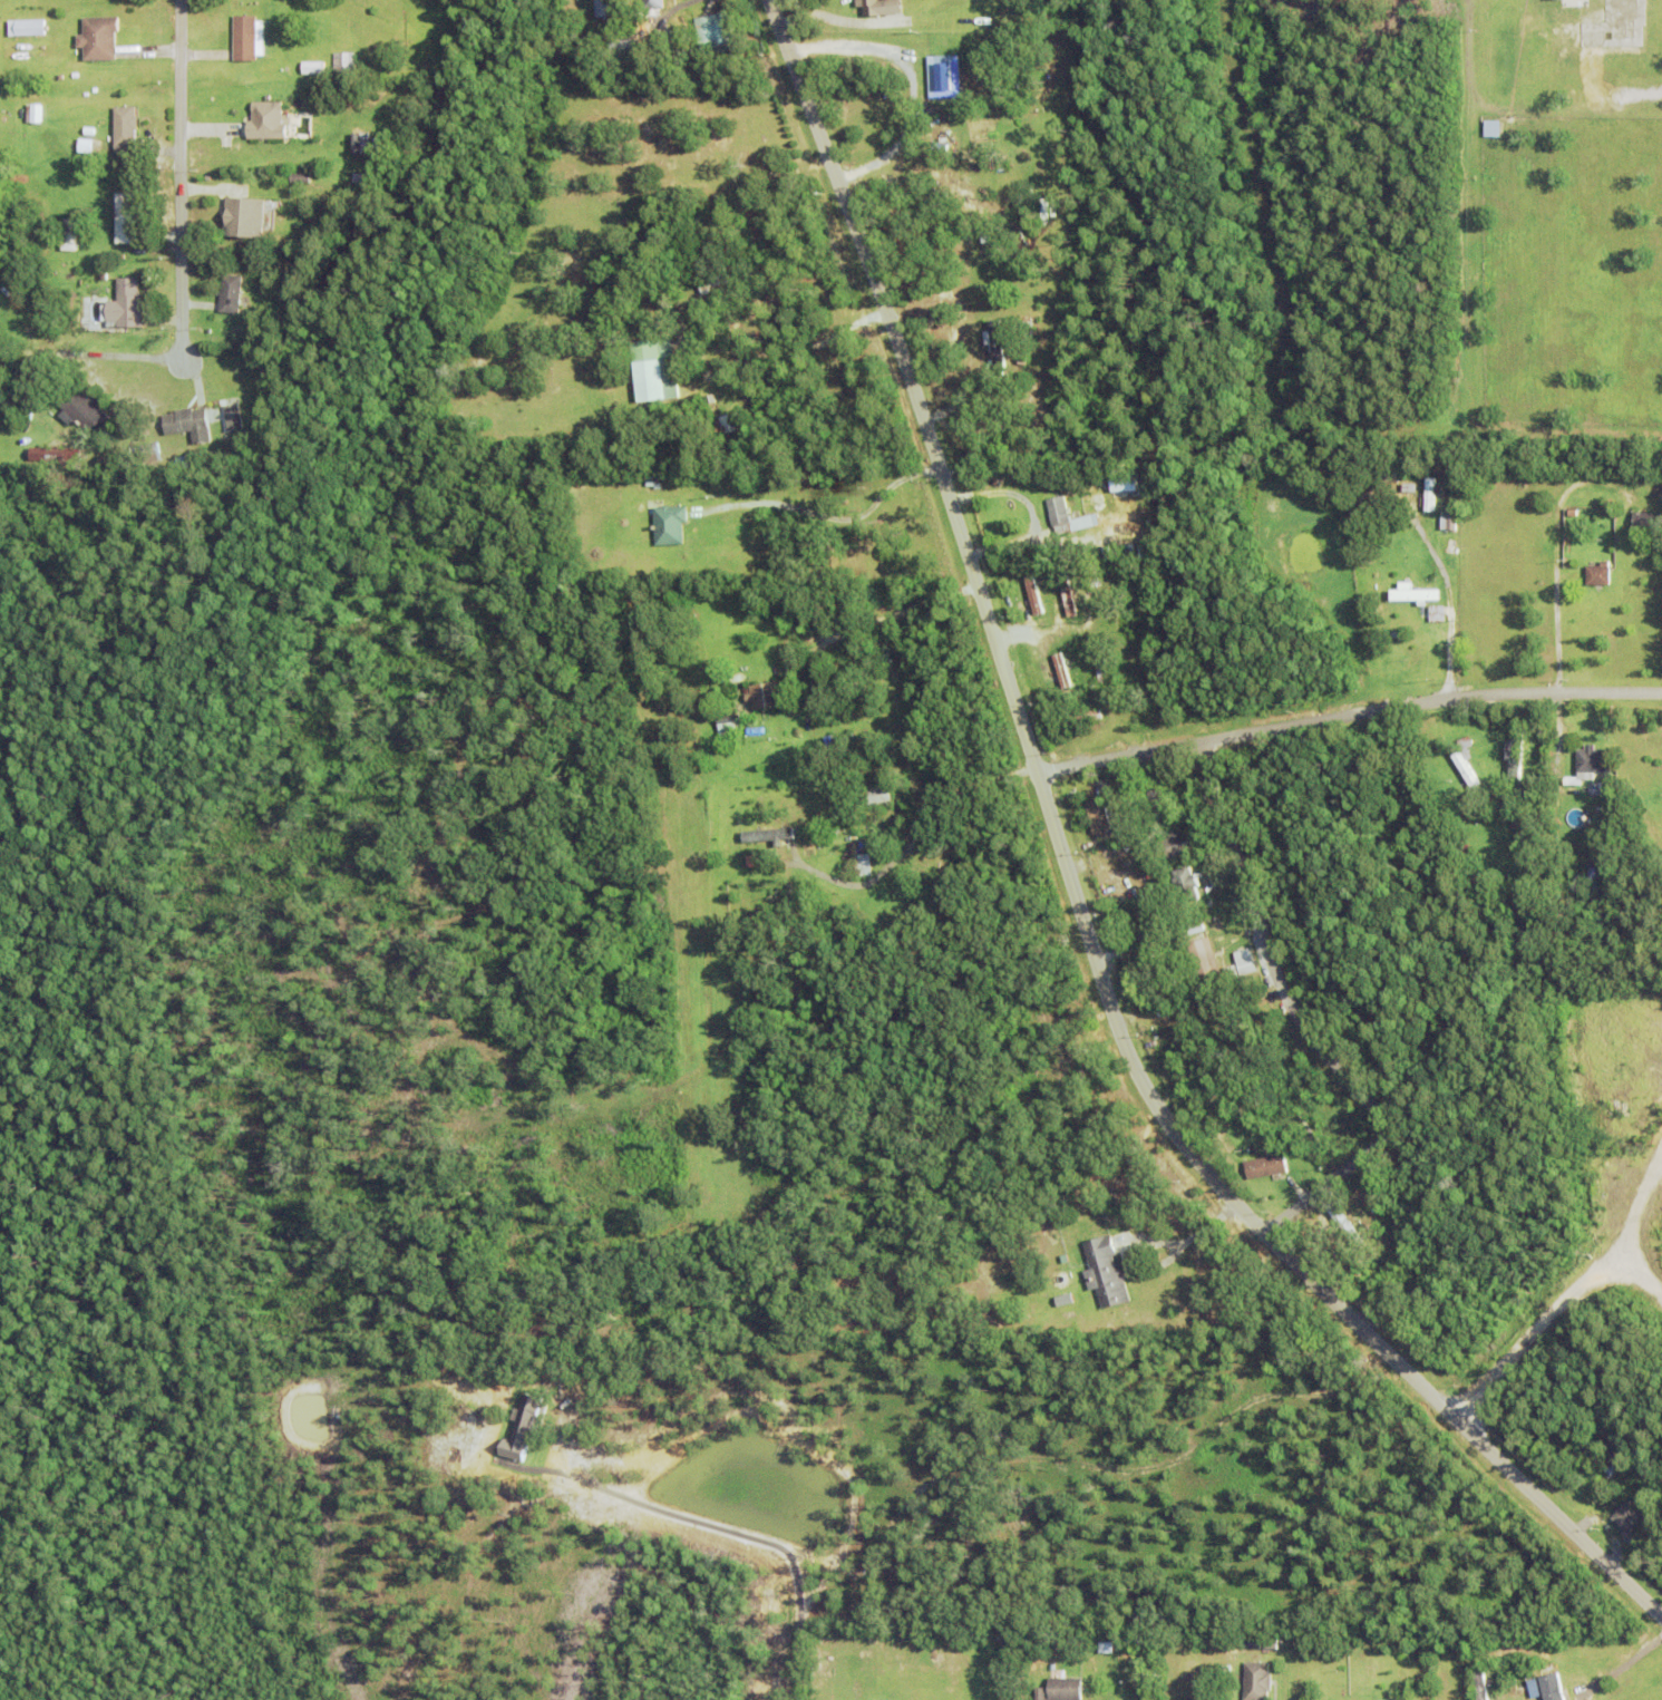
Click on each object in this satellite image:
building: (653, 3)
building: (879, 7)
building: (602, 8)
building: (620, 8)
building: (28, 28)
building: (716, 30)
building: (99, 38)
building: (249, 38)
building: (625, 48)
building: (397, 61)
building: (344, 62)
building: (314, 68)
building: (1037, 74)
road: (907, 77)
building: (944, 77)
building: (35, 113)
building: (268, 122)
building: (125, 129)
building: (89, 130)
building: (360, 144)
building: (939, 147)
building: (301, 178)
road: (181, 188)
building: (246, 217)
building: (126, 218)
building: (69, 241)
building: (963, 245)
building: (152, 246)
building: (712, 278)
building: (730, 293)
building: (231, 294)
building: (124, 307)
building: (995, 337)
building: (1024, 356)
building: (649, 371)
building: (85, 412)
building: (232, 416)
building: (729, 424)
building: (189, 425)
building: (150, 453)
building: (55, 457)
building: (185, 463)
building: (725, 476)
building: (1372, 478)
building: (650, 482)
building: (1447, 484)
building: (1431, 495)
building: (1655, 506)
building: (1065, 517)
building: (1447, 518)
building: (1648, 523)
building: (670, 525)
building: (1451, 548)
building: (1451, 564)
building: (1600, 575)
building: (1033, 593)
building: (1413, 594)
building: (1068, 595)
road: (1448, 609)
building: (1437, 614)
road: (885, 615)
building: (871, 655)
building: (1101, 668)
building: (1061, 672)
building: (766, 698)
road: (1348, 716)
building: (1078, 720)
building: (728, 725)
building: (1466, 747)
building: (1517, 756)
building: (1590, 767)
building: (1466, 771)
building: (1594, 787)
building: (1520, 794)
building: (874, 797)
building: (1158, 805)
building: (848, 809)
building: (1451, 812)
building: (1097, 815)
building: (1523, 822)
road: (921, 830)
building: (752, 834)
building: (1211, 841)
building: (1176, 846)
building: (1465, 856)
building: (1201, 865)
building: (863, 866)
building: (1594, 877)
building: (1186, 882)
road: (1076, 893)
building: (1165, 929)
building: (1196, 933)
building: (1147, 944)
building: (1205, 960)
building: (1175, 965)
building: (1246, 968)
road: (1302, 1019)
building: (1233, 1027)
building: (1224, 1039)
building: (1250, 1117)
building: (1310, 1135)
building: (1267, 1169)
building: (1345, 1226)
road: (1183, 1238)
building: (1066, 1261)
building: (1106, 1274)
building: (1381, 1280)
building: (1066, 1305)
building: (1611, 1458)
building: (1629, 1521)
building: (1261, 1642)
building: (924, 1668)
building: (827, 1670)
building: (1223, 1671)
building: (1256, 1680)
building: (1538, 1681)
building: (1480, 1684)
building: (1551, 1687)
building: (1060, 1689)

